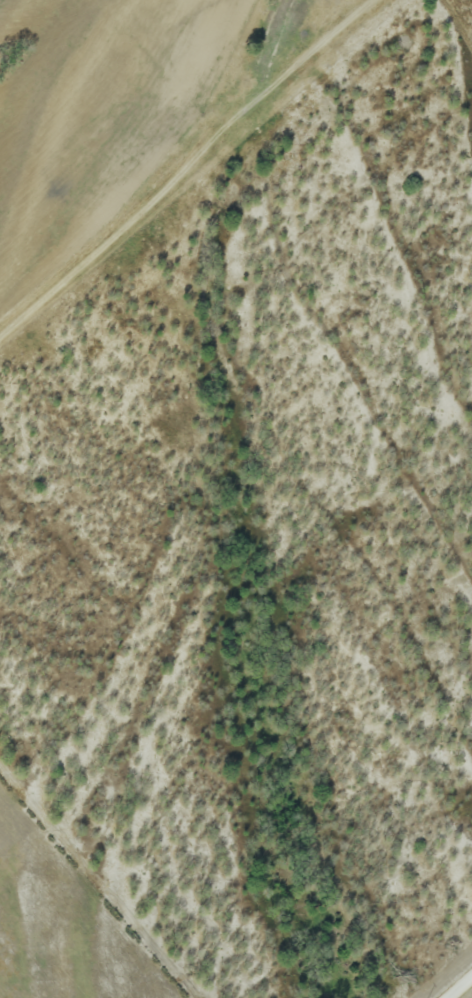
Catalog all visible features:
road: (182, 166)
road: (459, 987)

